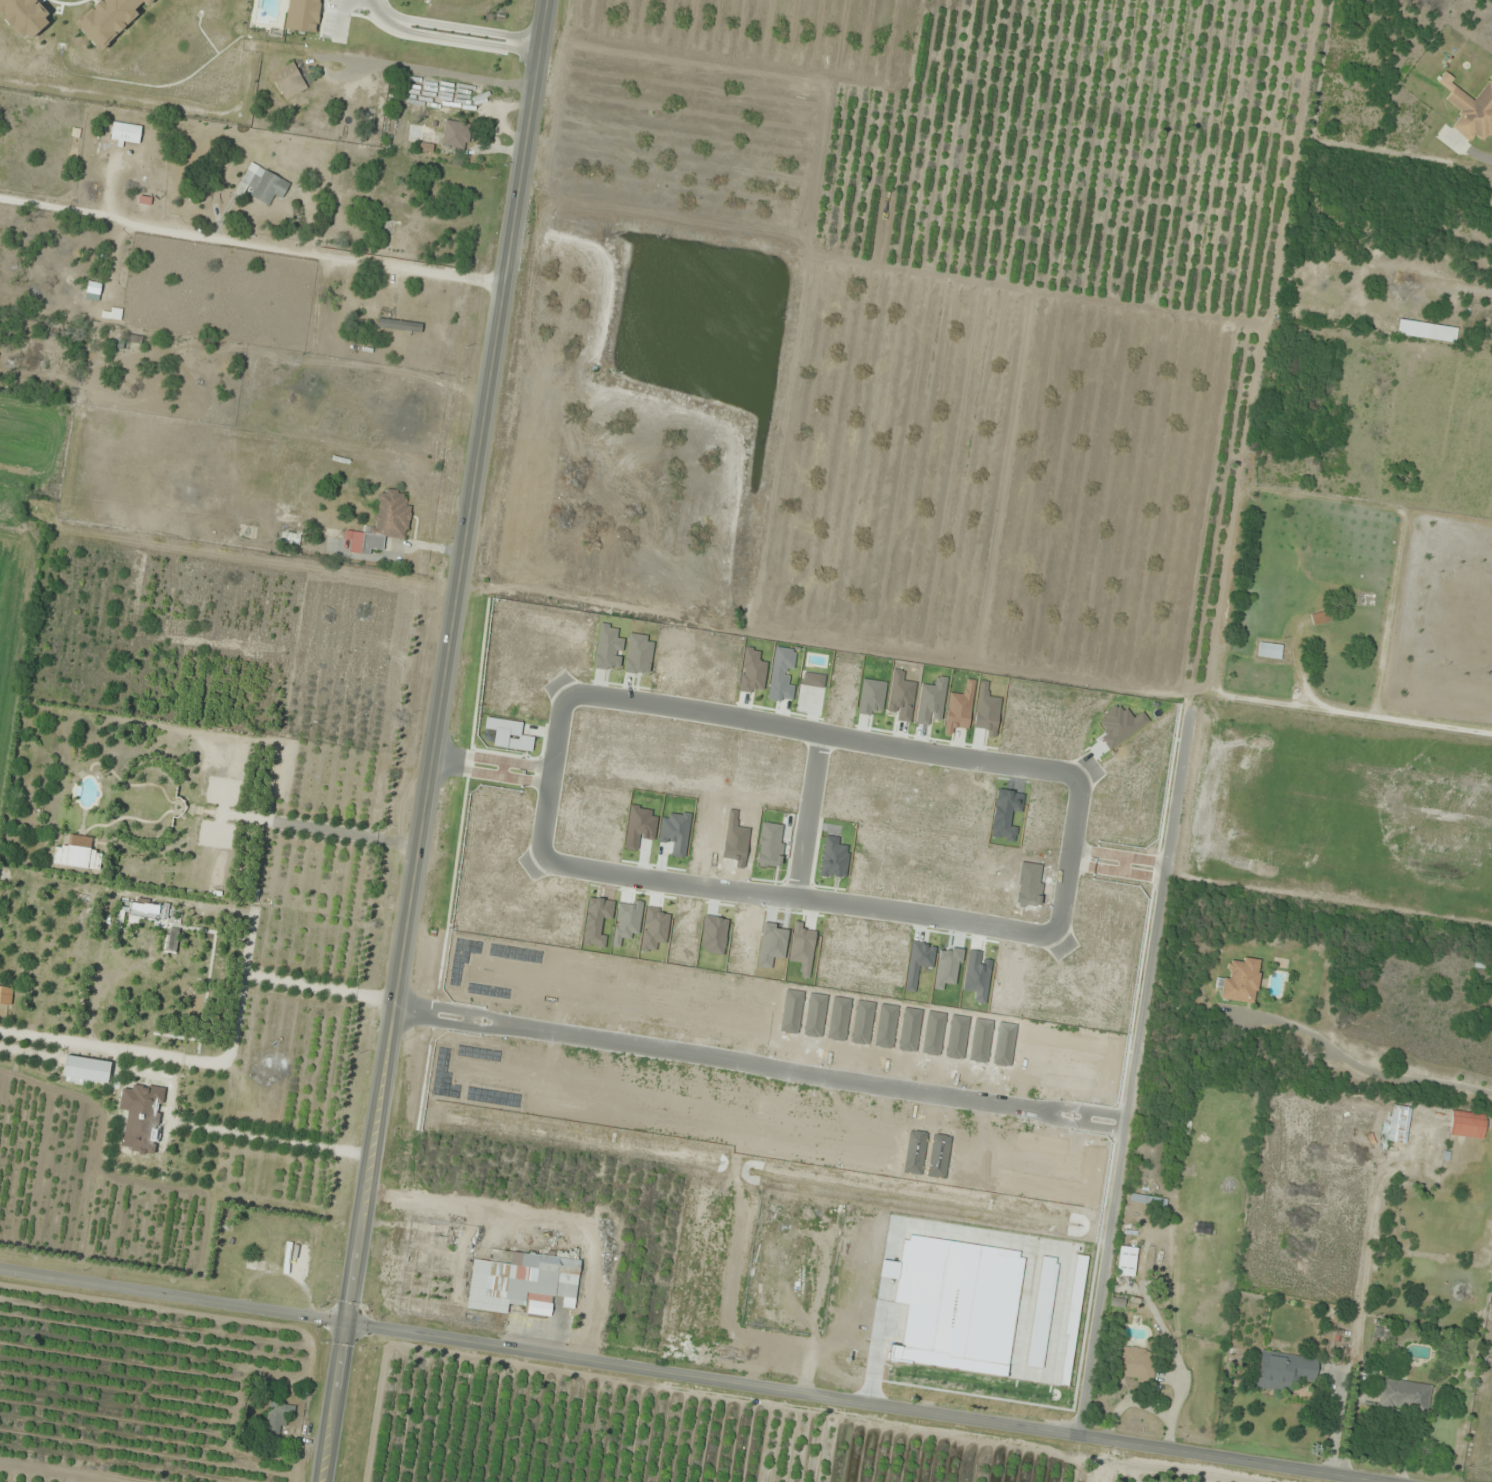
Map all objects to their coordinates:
building: (288, 82)
building: (1473, 113)
building: (456, 135)
building: (264, 184)
road: (250, 247)
building: (116, 314)
building: (399, 326)
building: (408, 423)
building: (388, 520)
building: (1319, 619)
building: (1269, 651)
road: (816, 731)
road: (430, 740)
road: (489, 762)
road: (548, 780)
road: (806, 814)
road: (1067, 854)
road: (1113, 860)
road: (795, 897)
building: (1482, 964)
building: (1241, 981)
road: (757, 1062)
road: (1129, 1064)
building: (1399, 1124)
building: (1467, 1125)
building: (1148, 1200)
building: (830, 1214)
building: (886, 1222)
building: (280, 1250)
building: (1127, 1261)
building: (523, 1282)
road: (172, 1301)
traffic signals: (345, 1328)
building: (1134, 1364)
building: (1284, 1371)
building: (1404, 1397)
road: (867, 1405)
building: (278, 1417)

